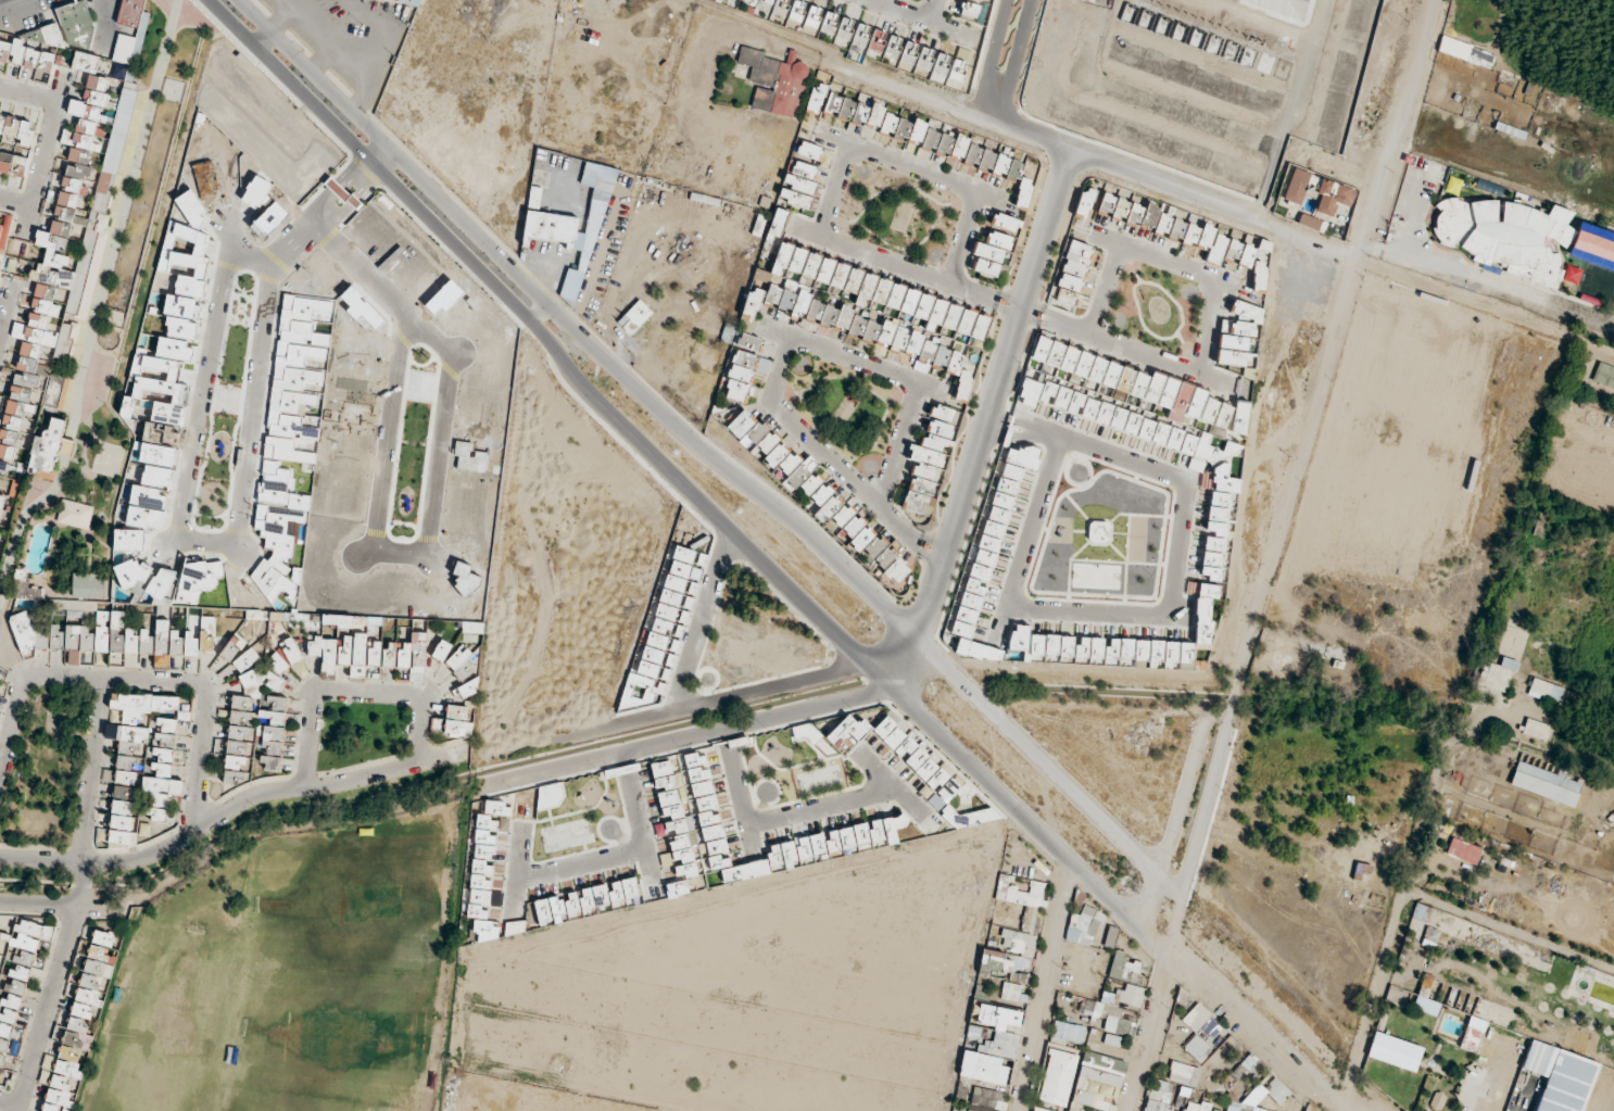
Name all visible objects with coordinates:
crop: (1581, 466)
park: (353, 907)
park: (288, 977)
park: (169, 1025)
park: (337, 1035)
park: (281, 1102)

